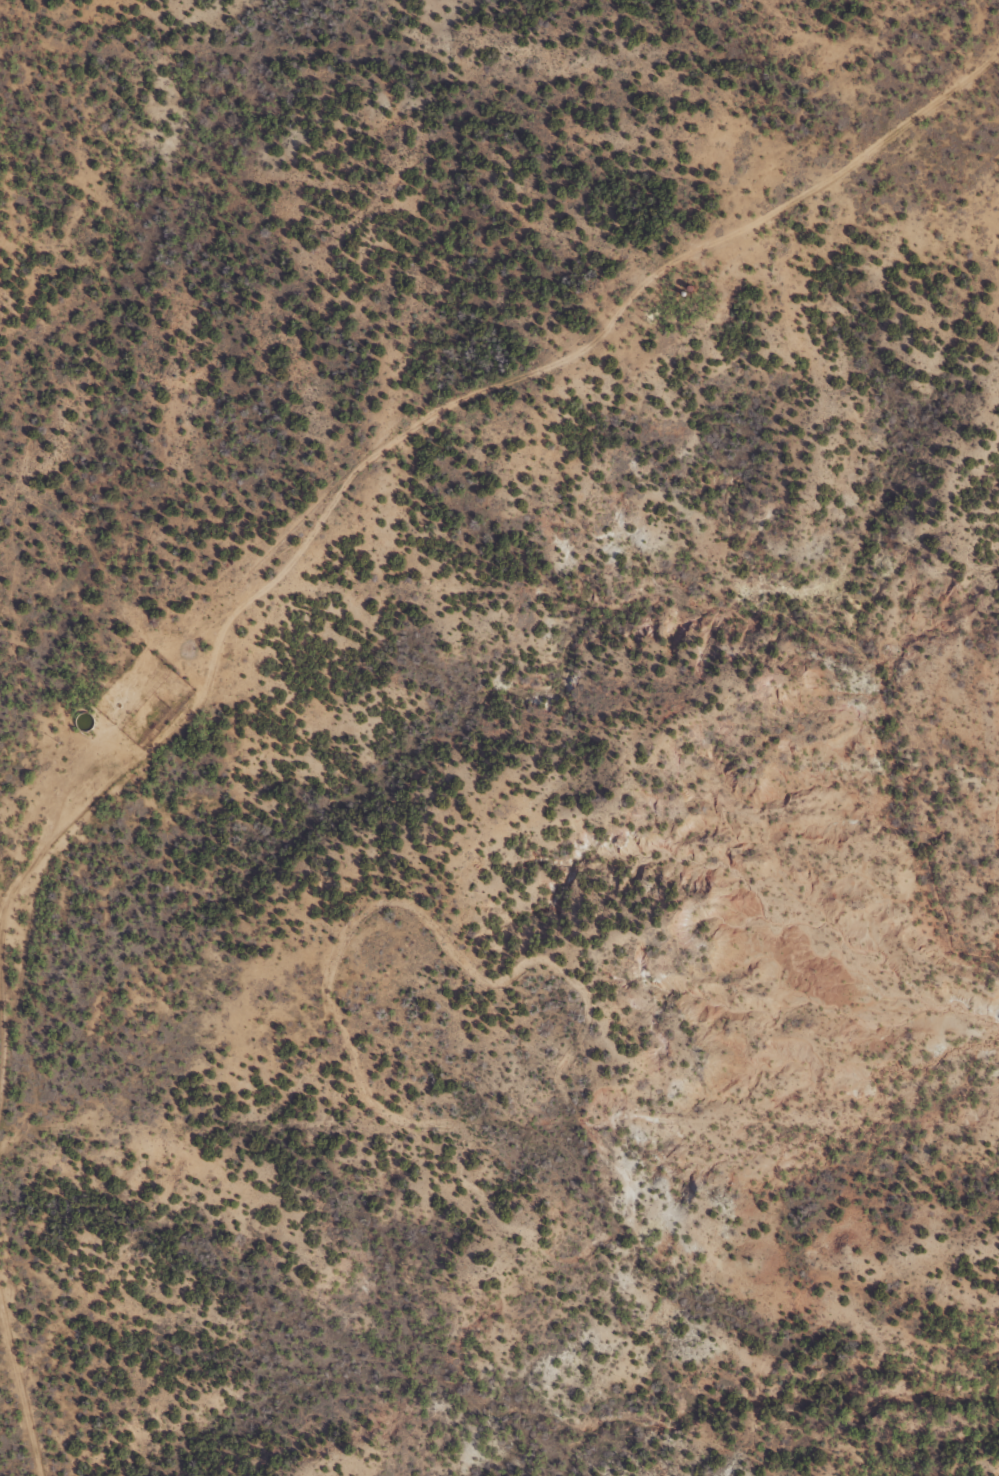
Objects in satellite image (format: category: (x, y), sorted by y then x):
road: (298, 663)

